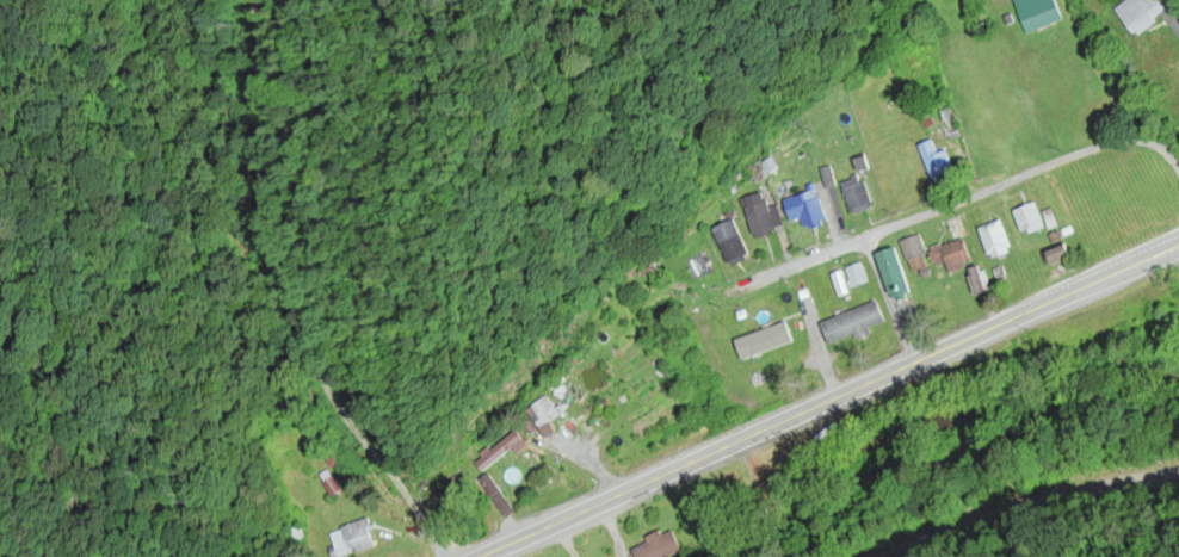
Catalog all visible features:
building: (1041, 14)
building: (1146, 14)
building: (939, 165)
building: (859, 196)
road: (962, 200)
building: (809, 210)
building: (763, 216)
building: (1030, 219)
building: (996, 240)
building: (733, 243)
building: (916, 255)
building: (955, 256)
building: (896, 274)
building: (858, 277)
building: (980, 281)
building: (841, 285)
road: (890, 303)
building: (856, 326)
road: (828, 403)
building: (544, 414)
building: (502, 501)
railway: (1036, 507)
building: (354, 540)
building: (662, 546)

